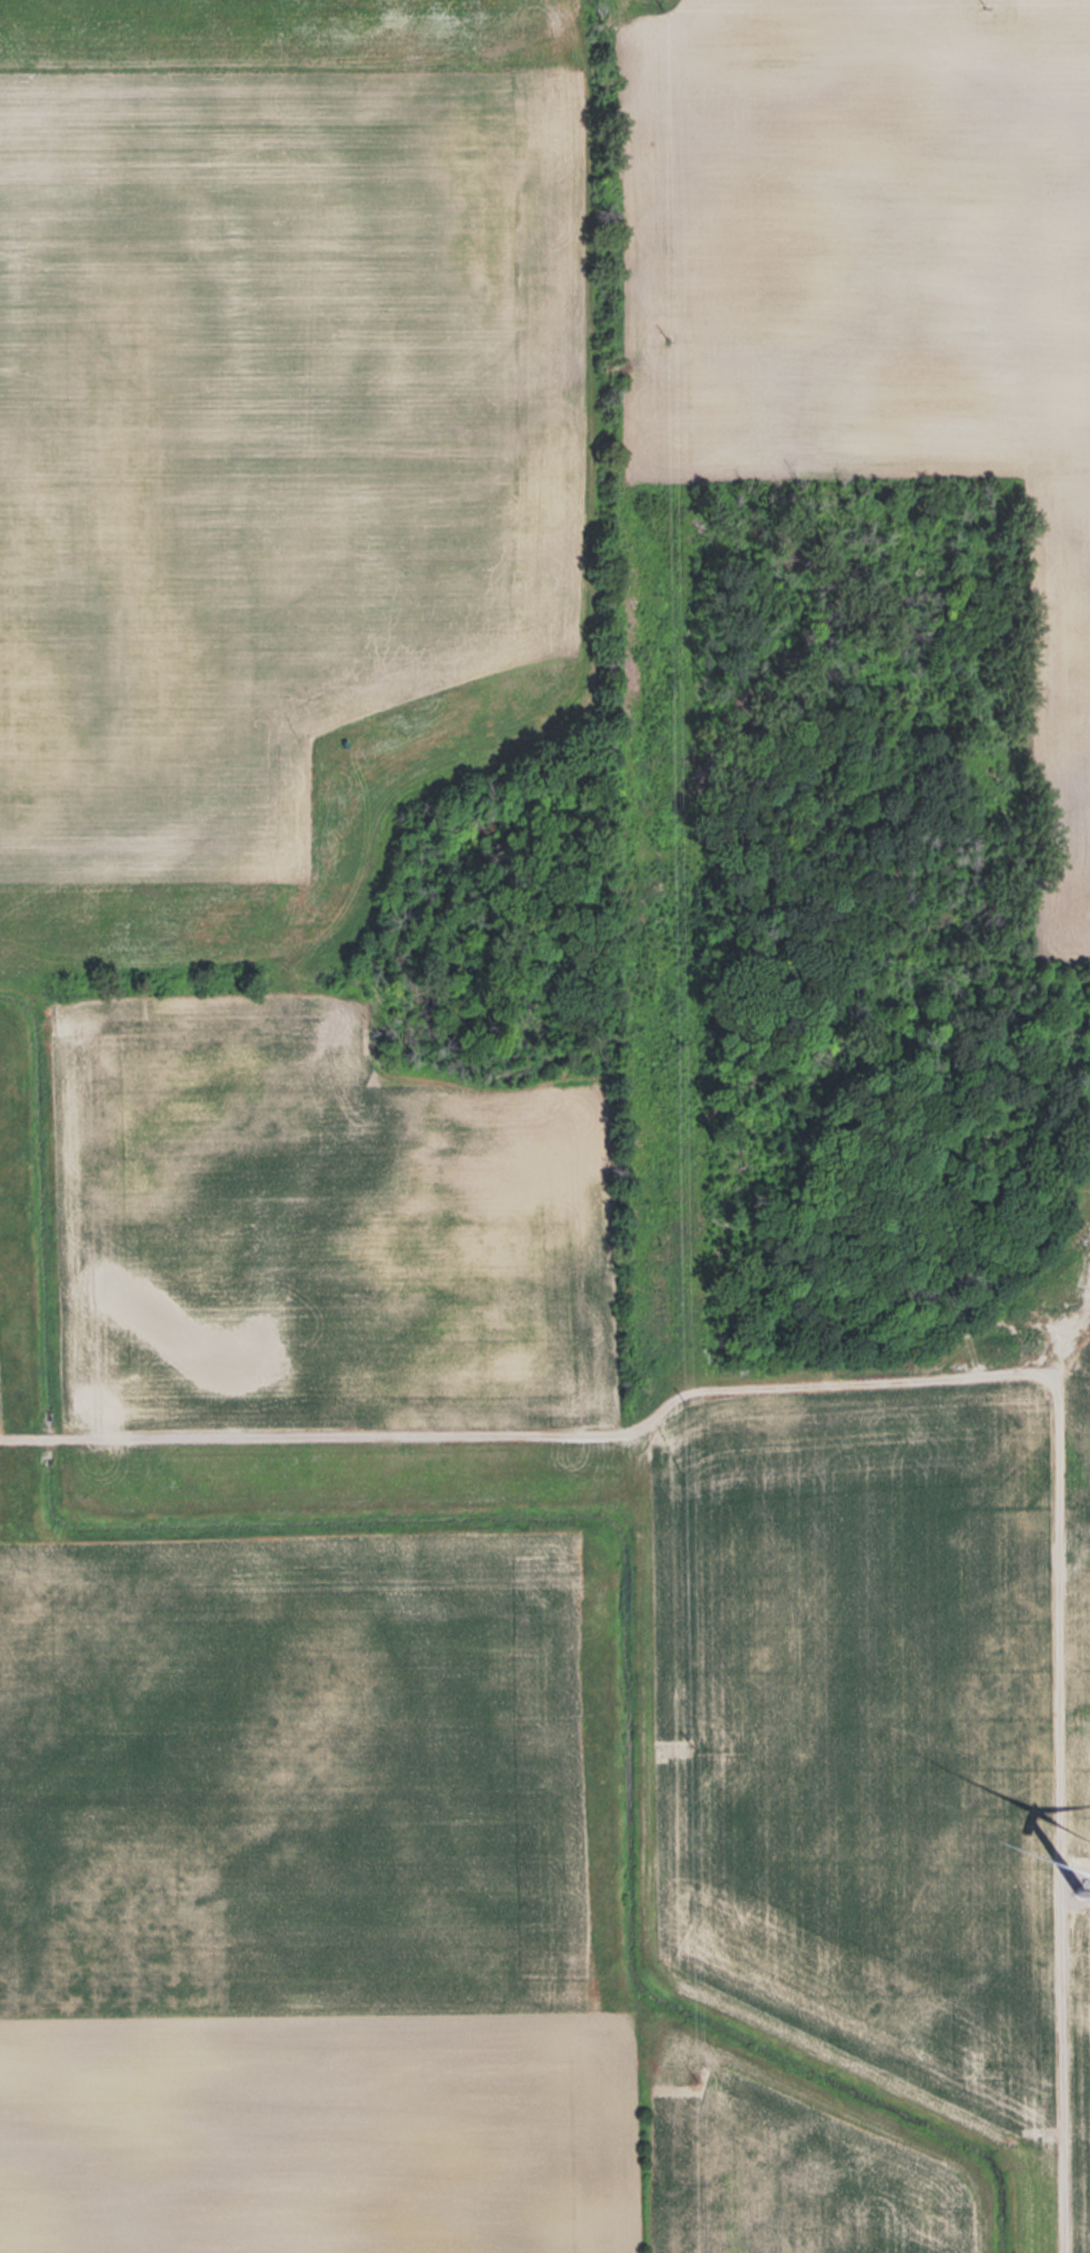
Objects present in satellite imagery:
power tower: (666, 0)
power tower: (673, 327)
power tower: (679, 675)
power tower: (682, 1037)
road: (954, 1376)
power tower: (692, 1396)
power tower: (695, 1734)
wind turbine: (1068, 1880)
power tower: (696, 2066)

